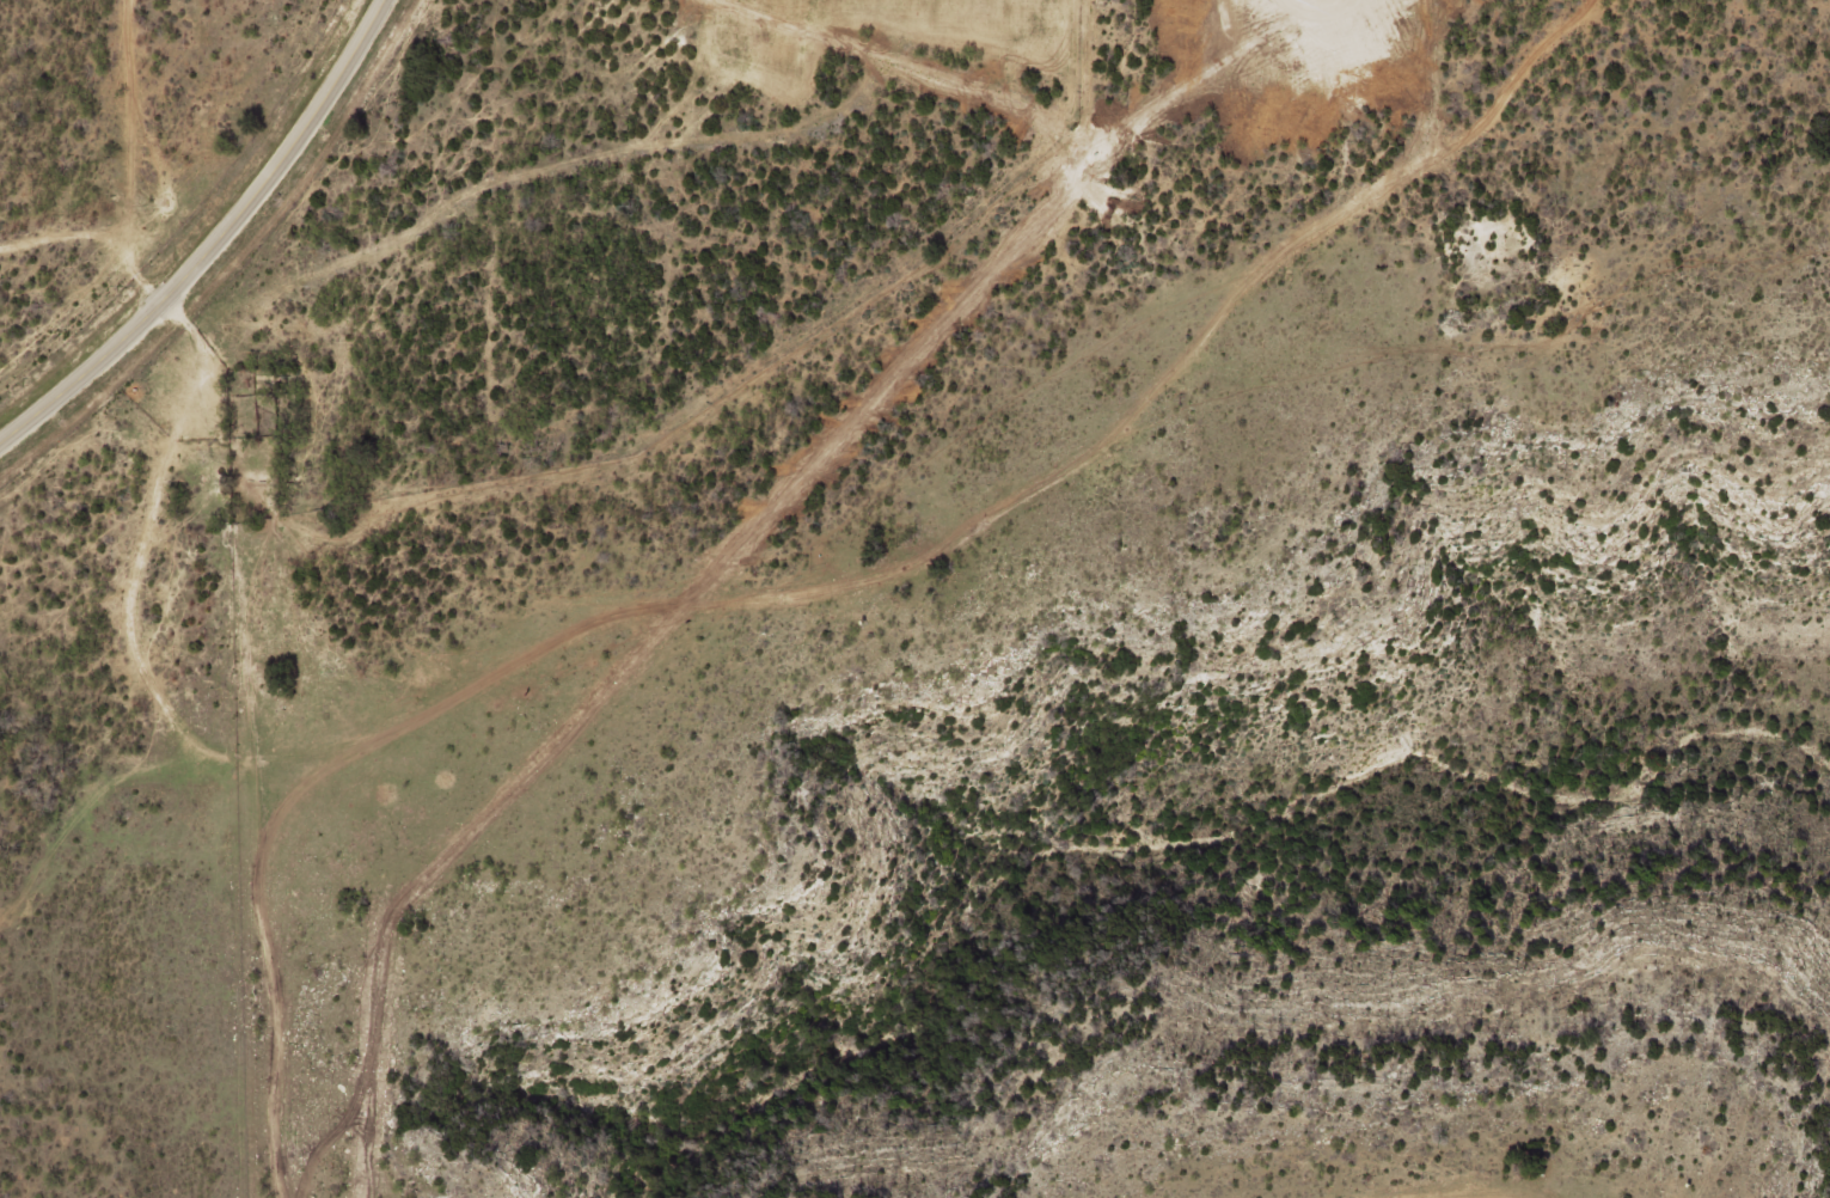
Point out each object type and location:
road: (218, 242)
road: (901, 499)

